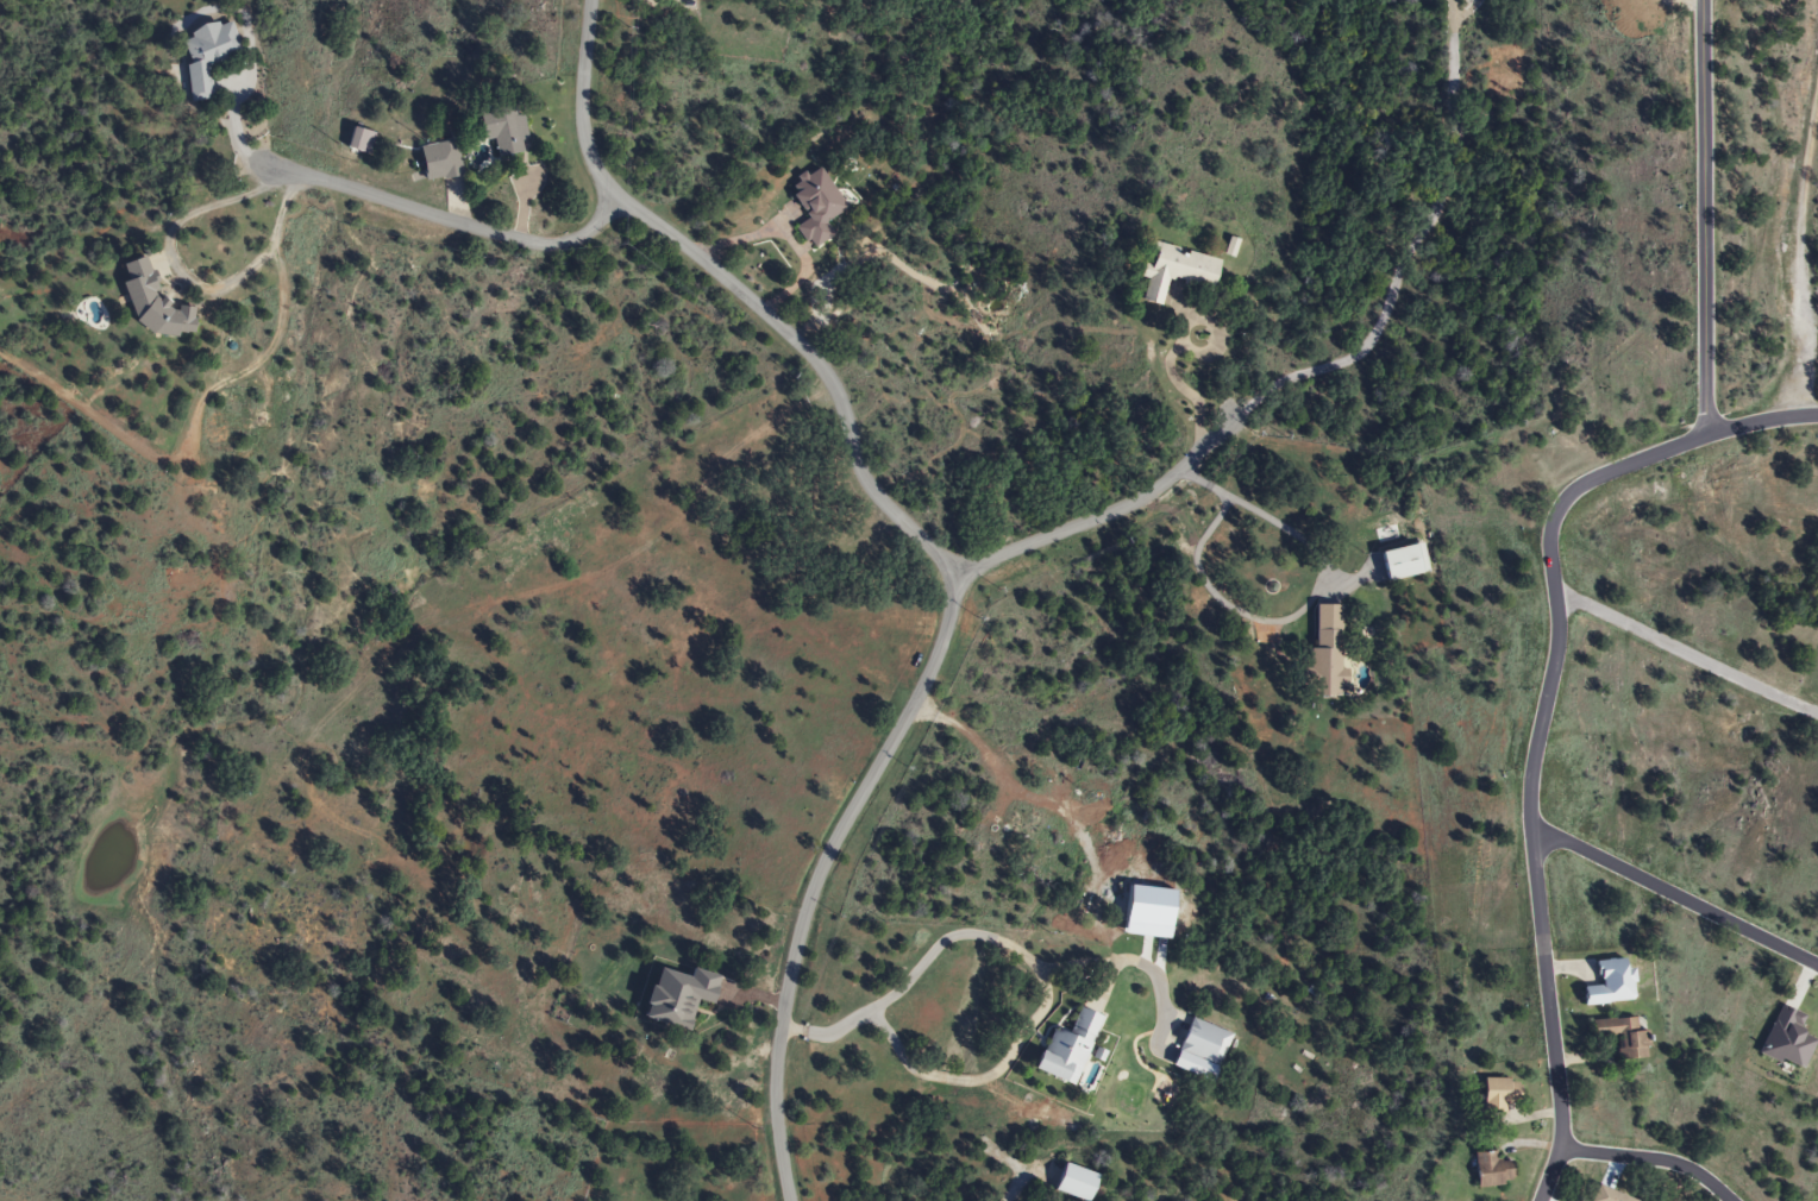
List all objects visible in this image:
building: (206, 55)
road: (581, 101)
building: (500, 128)
building: (438, 159)
building: (811, 207)
road: (1703, 218)
road: (452, 219)
road: (1410, 258)
building: (1171, 271)
road: (181, 273)
building: (150, 302)
road: (1098, 517)
building: (1402, 561)
road: (939, 642)
road: (1686, 652)
building: (1325, 664)
road: (1540, 713)
road: (1676, 895)
building: (1146, 910)
building: (1606, 983)
building: (673, 996)
building: (1620, 1037)
building: (1785, 1039)
building: (1202, 1043)
building: (1064, 1050)
building: (1496, 1094)
road: (1651, 1158)
building: (1487, 1170)
building: (1071, 1183)
building: (1604, 1195)

